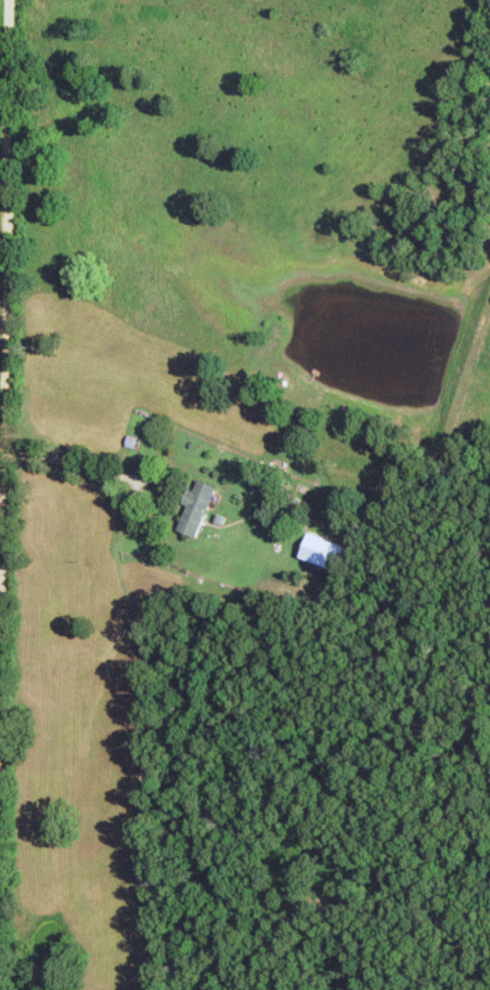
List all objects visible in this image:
road: (0, 34)
building: (45, 441)
building: (190, 511)

